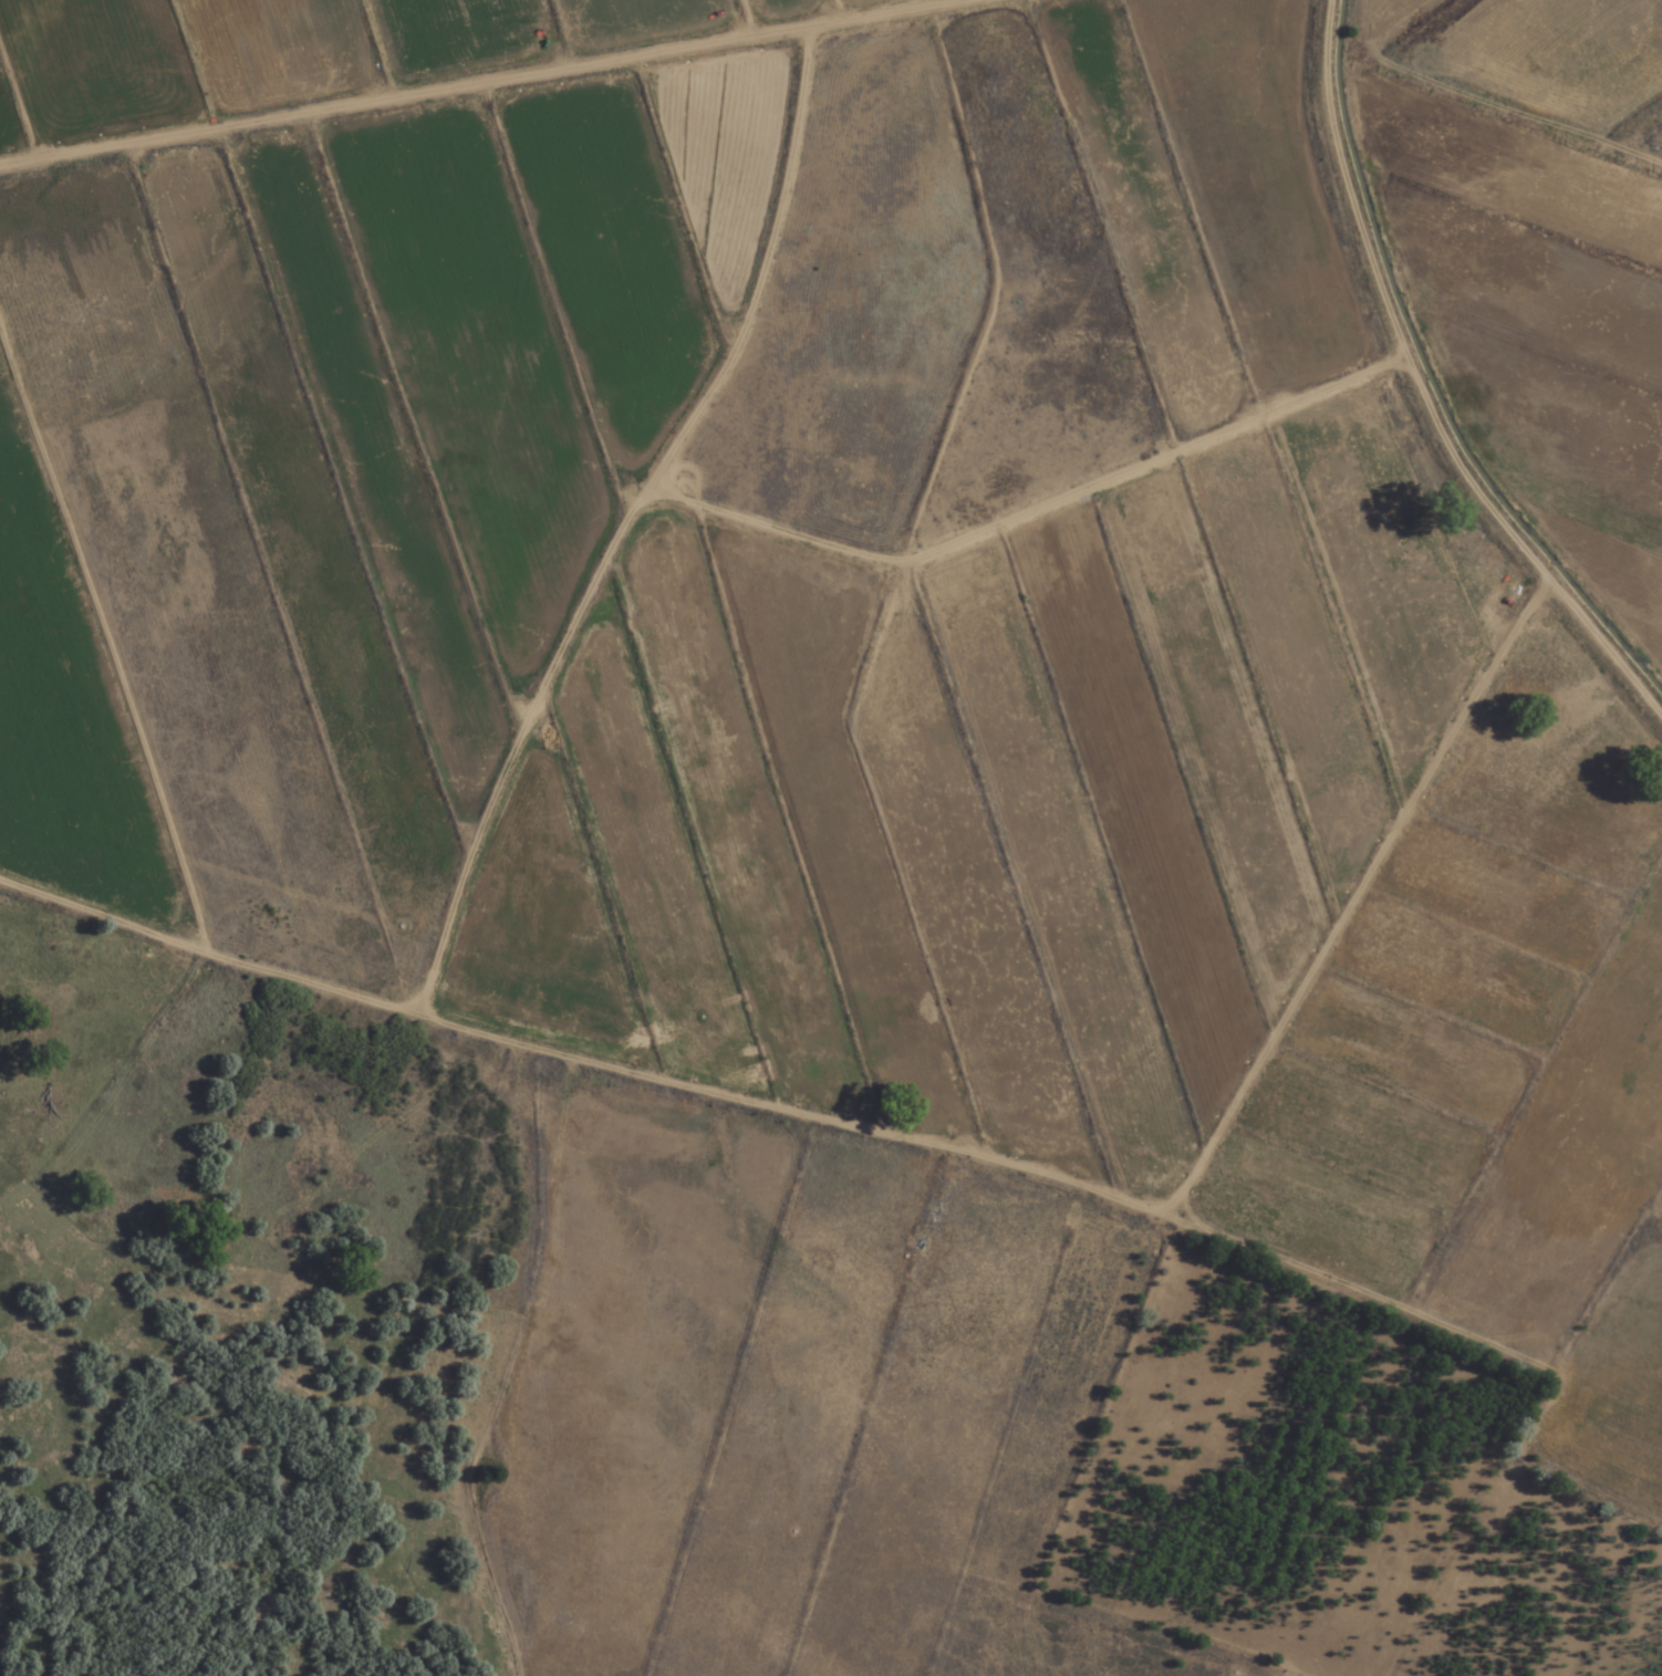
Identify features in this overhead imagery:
road: (1593, 1582)

